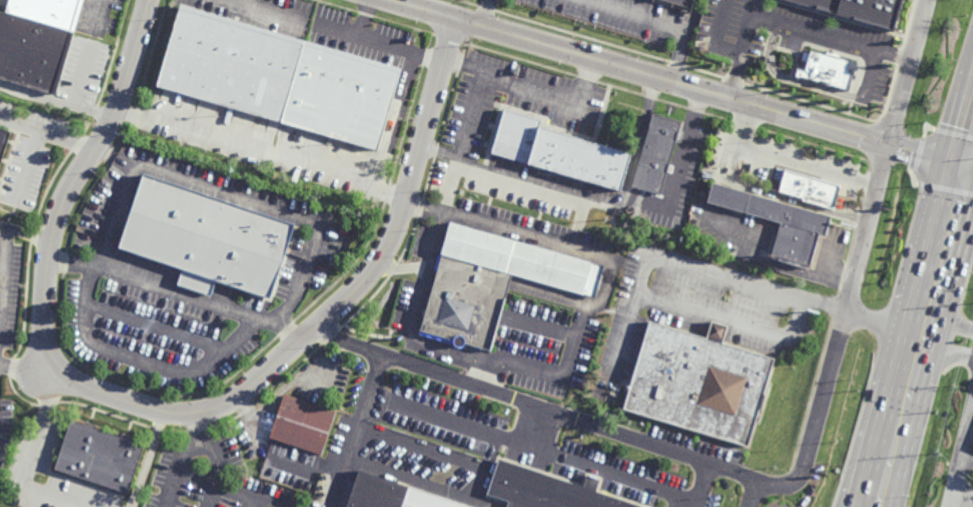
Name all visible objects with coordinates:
road: (411, 3)
building: (677, 4)
building: (50, 9)
building: (857, 10)
road: (483, 13)
road: (633, 16)
road: (365, 18)
road: (747, 27)
road: (339, 30)
road: (715, 37)
road: (831, 38)
road: (685, 40)
building: (33, 50)
road: (89, 54)
building: (826, 70)
road: (908, 71)
road: (869, 75)
building: (280, 76)
road: (734, 76)
road: (792, 81)
road: (680, 83)
road: (554, 94)
road: (475, 96)
road: (55, 102)
road: (395, 124)
road: (47, 134)
building: (4, 140)
road: (639, 140)
building: (560, 150)
building: (657, 151)
road: (260, 156)
road: (117, 159)
road: (971, 161)
road: (785, 163)
road: (971, 166)
traffic signals: (970, 167)
road: (971, 167)
road: (29, 171)
building: (808, 189)
road: (787, 199)
road: (608, 201)
road: (424, 209)
building: (804, 228)
road: (866, 229)
building: (206, 238)
road: (531, 238)
road: (5, 239)
road: (72, 263)
road: (684, 272)
road: (307, 273)
building: (492, 281)
road: (550, 296)
road: (199, 300)
road: (732, 324)
road: (950, 325)
road: (883, 326)
road: (159, 327)
road: (540, 330)
road: (922, 336)
road: (946, 353)
road: (26, 366)
road: (484, 376)
building: (700, 383)
road: (278, 397)
road: (173, 413)
building: (302, 425)
road: (537, 428)
road: (360, 431)
road: (638, 440)
road: (534, 449)
road: (961, 453)
building: (100, 456)
road: (967, 456)
road: (33, 457)
power tower: (936, 457)
road: (148, 459)
road: (217, 461)
road: (196, 479)
road: (486, 484)
road: (702, 485)
road: (174, 490)
building: (544, 490)
road: (753, 493)
road: (963, 494)
building: (389, 495)
road: (213, 497)
road: (251, 503)

